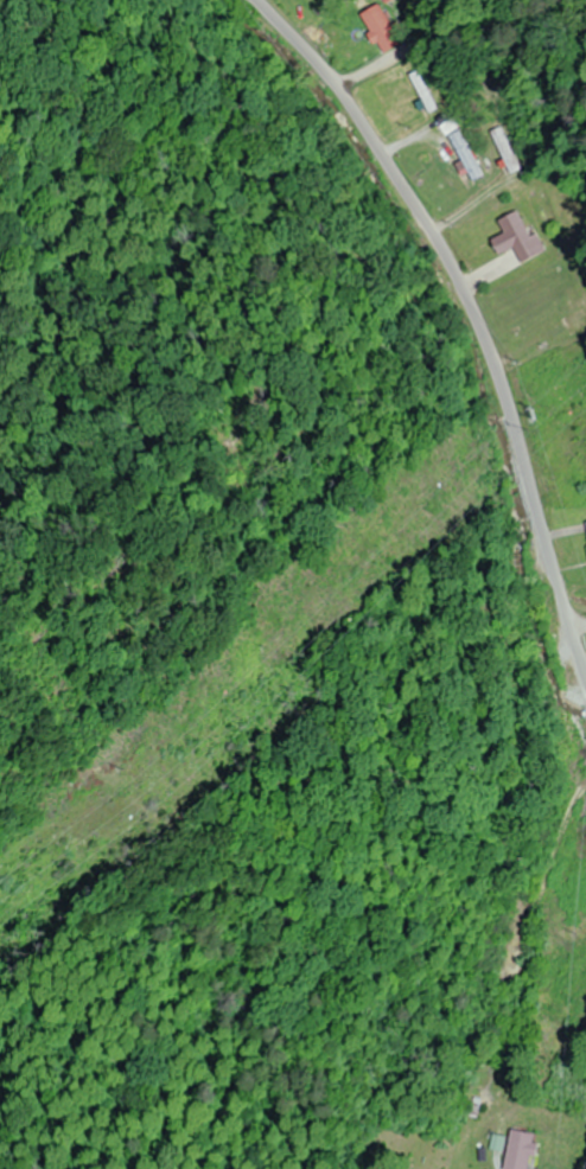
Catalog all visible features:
building: (387, 0)
building: (380, 28)
building: (504, 147)
building: (465, 155)
building: (517, 238)
road: (473, 311)
building: (573, 321)
road: (579, 626)
building: (518, 1150)

